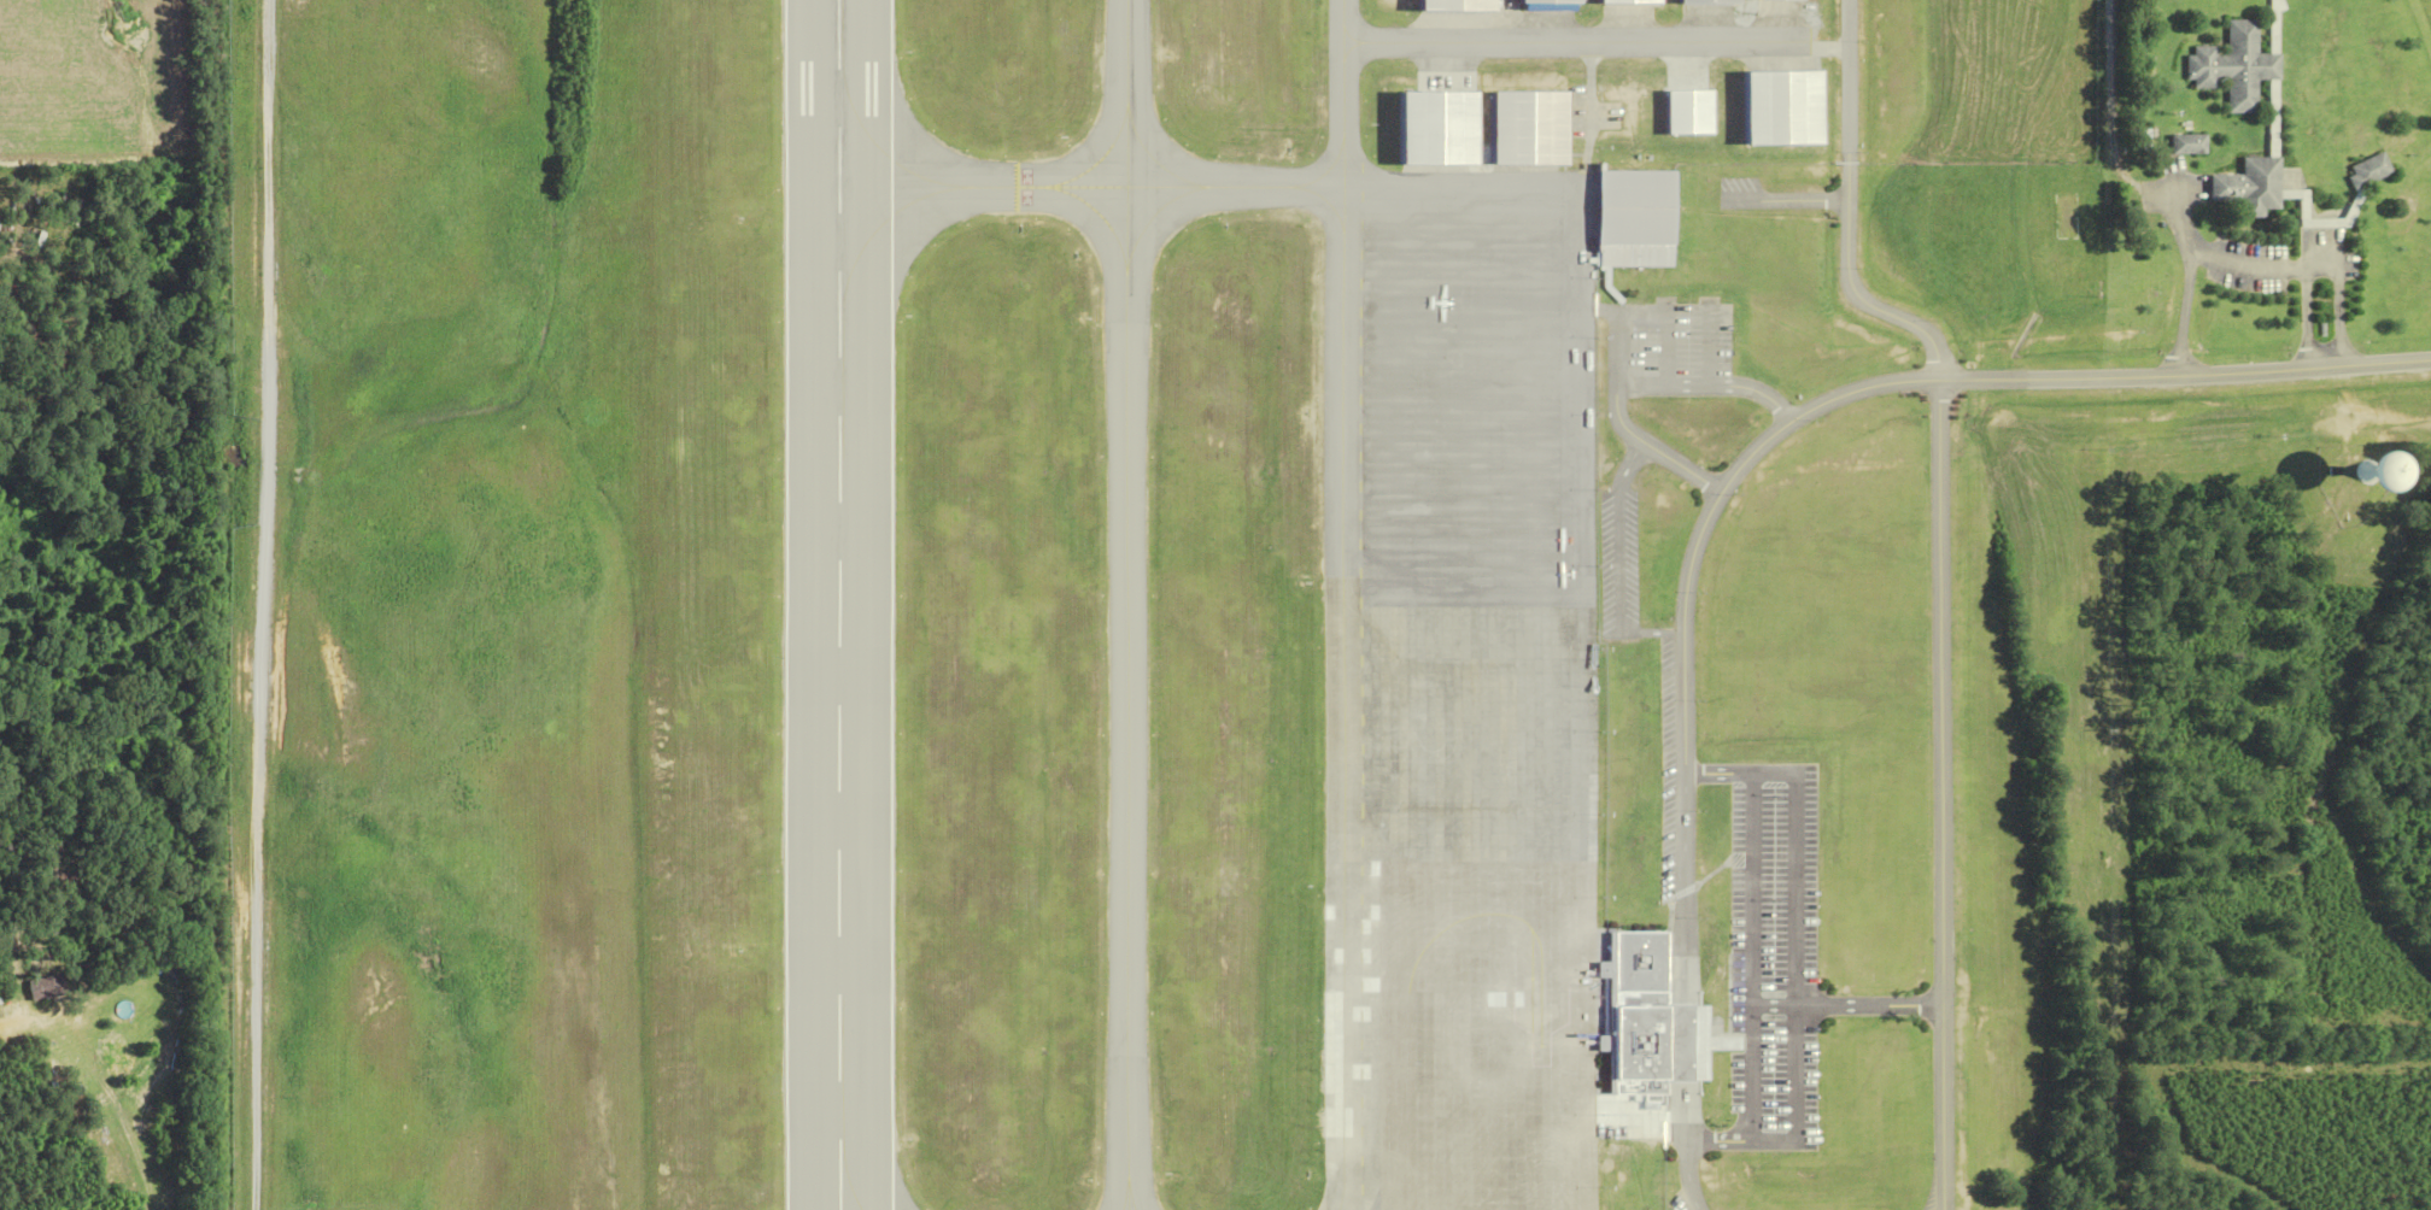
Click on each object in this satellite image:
building: (1448, 0)
building: (1780, 0)
building: (1548, 1)
building: (1707, 2)
building: (1628, 5)
airport taxiway: (1578, 41)
building: (2238, 65)
airport taxiway: (1345, 86)
building: (1522, 122)
building: (2191, 143)
building: (2374, 170)
building: (2254, 184)
airport taxiway: (1079, 188)
road: (1849, 213)
building: (1635, 218)
road: (2221, 258)
road: (2189, 310)
road: (2344, 317)
road: (2312, 319)
road: (1623, 335)
parking lot: (1680, 346)
road: (1670, 347)
road: (1712, 347)
road: (2186, 375)
road: (1635, 387)
road: (1761, 451)
road: (1633, 464)
water tower: (2373, 472)
parking lot: (1622, 553)
road: (1623, 560)
road: (260, 605)
airport runway: (839, 605)
airport taxiway: (1127, 605)
road: (1654, 632)
airport apron: (1461, 688)
parking lot: (1675, 765)
road: (1742, 774)
road: (1943, 794)
road: (1687, 887)
parking lot: (1776, 951)
road: (1798, 956)
road: (1756, 957)
road: (1871, 1004)
building: (1638, 1012)
building: (1680, 1042)
road: (1744, 1141)
road: (1691, 1175)
parking lot: (1685, 1199)

